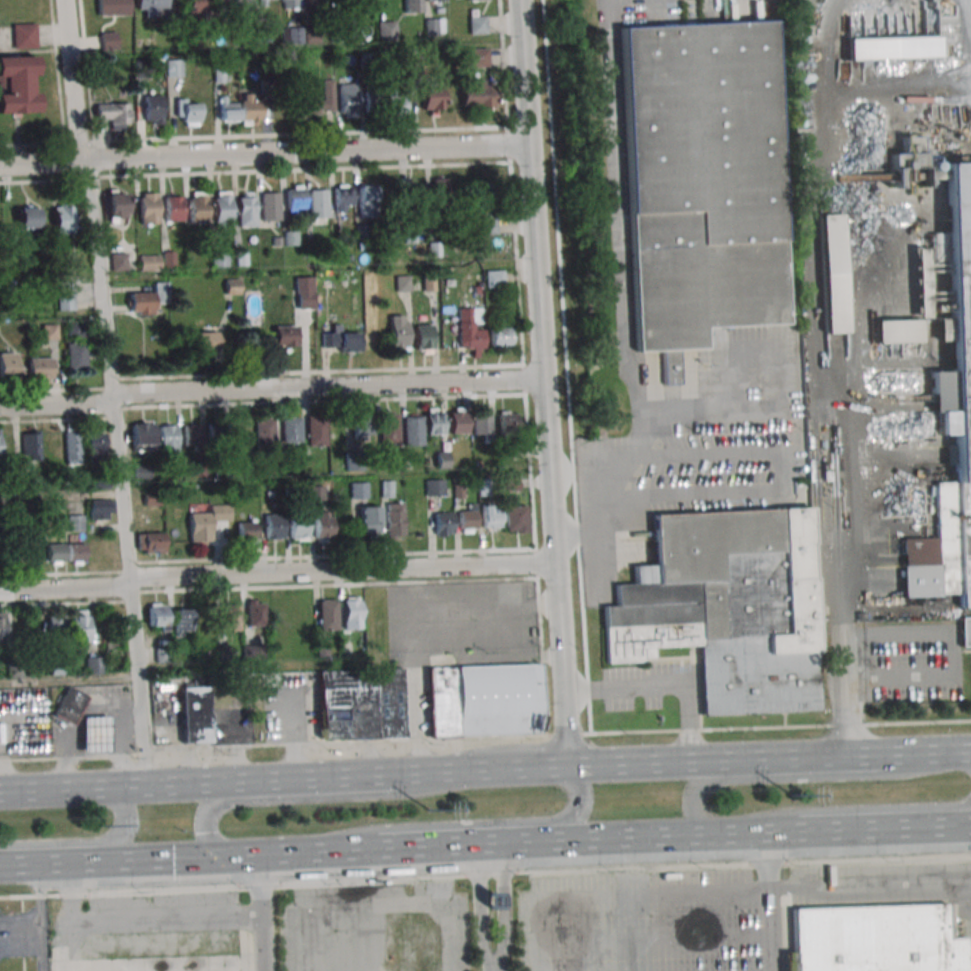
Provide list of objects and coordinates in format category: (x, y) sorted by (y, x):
building: (436, 0)
building: (477, 0)
building: (315, 1)
building: (267, 2)
building: (243, 3)
building: (288, 4)
building: (150, 6)
building: (195, 6)
building: (219, 6)
building: (413, 6)
building: (113, 7)
building: (477, 24)
building: (434, 26)
building: (386, 30)
building: (291, 35)
building: (24, 36)
building: (108, 40)
building: (478, 57)
building: (174, 67)
road: (525, 72)
building: (18, 84)
building: (478, 94)
building: (346, 97)
building: (372, 97)
building: (432, 98)
building: (397, 101)
building: (314, 102)
building: (152, 108)
building: (227, 109)
building: (250, 109)
building: (188, 112)
building: (114, 114)
road: (264, 153)
building: (908, 153)
building: (936, 175)
building: (701, 183)
building: (437, 192)
building: (412, 193)
building: (484, 193)
building: (295, 198)
building: (343, 198)
building: (365, 198)
building: (317, 203)
building: (117, 205)
building: (148, 206)
building: (269, 206)
building: (172, 207)
building: (220, 208)
building: (197, 209)
building: (245, 211)
building: (28, 217)
building: (63, 218)
building: (487, 225)
building: (219, 258)
building: (119, 262)
building: (150, 262)
building: (919, 271)
building: (831, 273)
building: (402, 283)
road: (100, 292)
building: (304, 292)
building: (65, 295)
building: (148, 299)
building: (469, 328)
building: (76, 329)
building: (49, 331)
building: (897, 331)
building: (398, 333)
building: (285, 336)
building: (423, 336)
building: (500, 339)
building: (206, 340)
building: (341, 341)
building: (76, 356)
building: (7, 365)
building: (40, 370)
road: (271, 387)
road: (711, 414)
building: (951, 419)
building: (434, 421)
building: (458, 421)
building: (508, 421)
building: (361, 424)
building: (482, 424)
building: (389, 427)
building: (292, 429)
building: (264, 430)
building: (316, 430)
building: (413, 430)
building: (192, 434)
building: (218, 434)
building: (143, 436)
building: (168, 439)
building: (94, 443)
building: (30, 445)
building: (72, 445)
road: (638, 448)
road: (551, 455)
building: (443, 459)
road: (623, 478)
building: (434, 487)
building: (387, 489)
building: (359, 490)
building: (151, 498)
building: (100, 509)
building: (491, 518)
building: (397, 519)
building: (516, 519)
building: (468, 520)
building: (370, 521)
building: (207, 522)
building: (440, 522)
building: (75, 523)
building: (323, 524)
building: (274, 526)
building: (298, 528)
building: (246, 531)
road: (429, 536)
building: (150, 542)
building: (34, 550)
building: (55, 553)
building: (75, 553)
road: (278, 574)
road: (845, 585)
building: (726, 606)
building: (255, 613)
building: (328, 614)
building: (352, 614)
building: (157, 617)
building: (232, 617)
building: (183, 622)
building: (55, 624)
building: (2, 625)
building: (78, 625)
building: (965, 632)
road: (951, 663)
building: (93, 664)
road: (68, 679)
road: (137, 685)
road: (664, 686)
building: (485, 699)
building: (360, 704)
building: (68, 706)
building: (194, 714)
building: (93, 734)
road: (485, 737)
road: (970, 752)
road: (934, 753)
road: (830, 756)
road: (665, 763)
road: (475, 770)
road: (800, 776)
road: (323, 777)
road: (131, 786)
power tower: (792, 796)
road: (580, 804)
road: (212, 806)
road: (853, 808)
power tower: (429, 813)
road: (938, 826)
power tower: (102, 828)
road: (856, 828)
road: (769, 831)
road: (645, 836)
road: (86, 841)
road: (477, 843)
road: (376, 849)
road: (347, 850)
road: (277, 852)
traffic signals: (218, 856)
road: (179, 857)
road: (110, 860)
road: (39, 862)
road: (485, 874)
road: (73, 886)
road: (716, 893)
road: (481, 899)
road: (502, 901)
road: (771, 901)
road: (260, 912)
road: (40, 916)
parking lot: (641, 922)
road: (653, 937)
building: (874, 939)
road: (68, 941)
road: (494, 970)

